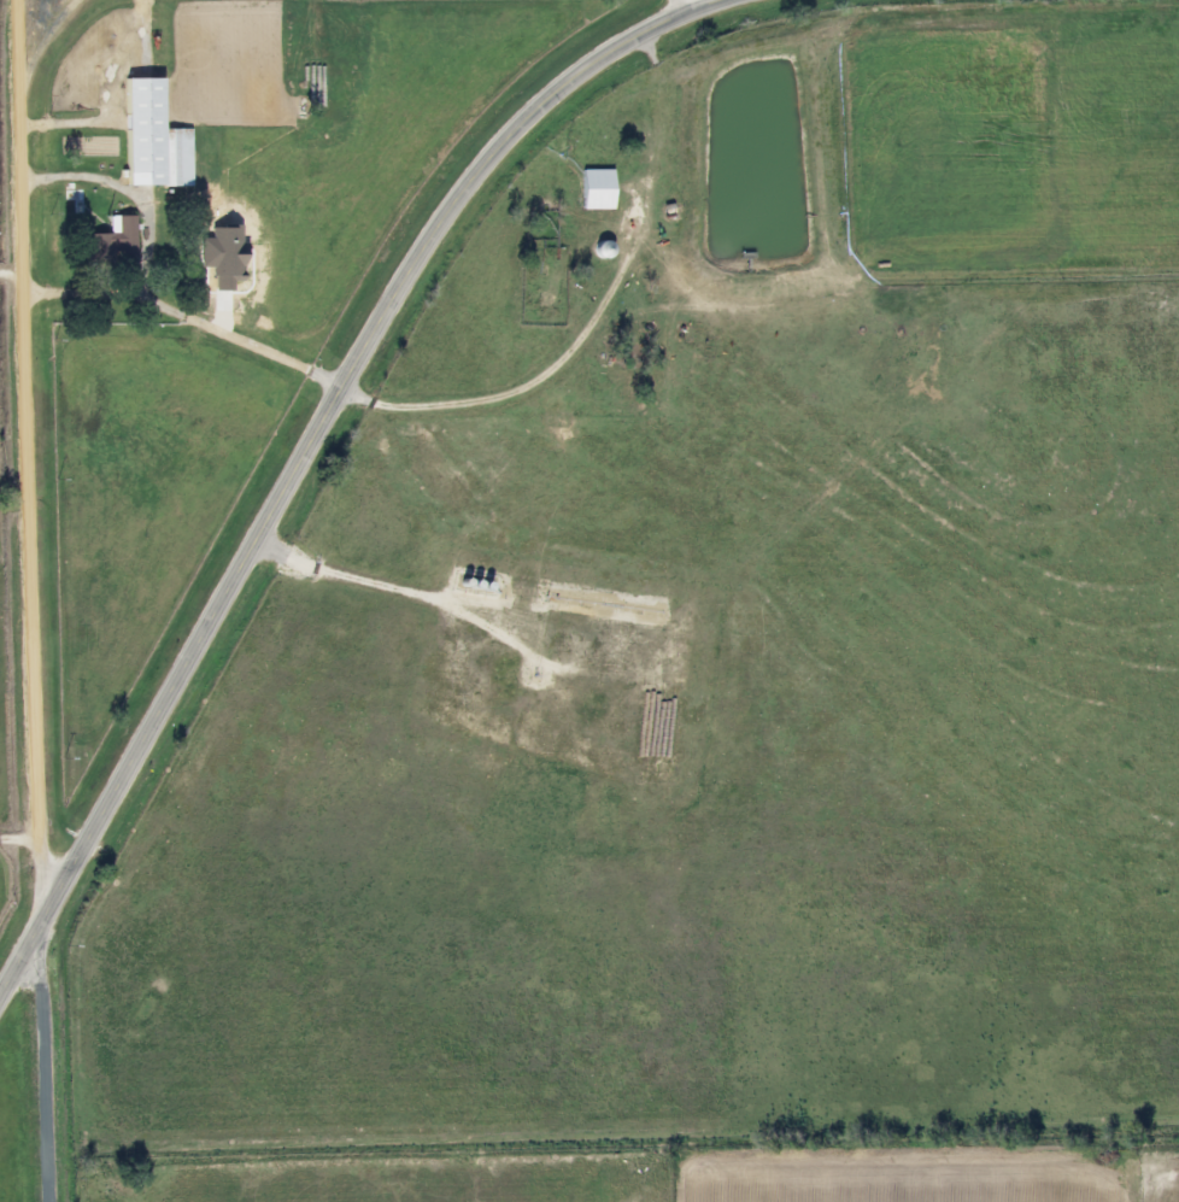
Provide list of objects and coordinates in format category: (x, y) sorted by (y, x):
road: (685, 0)
road: (37, 46)
building: (151, 139)
road: (95, 176)
building: (596, 188)
building: (108, 242)
road: (231, 338)
road: (20, 444)
road: (295, 448)
road: (16, 829)
road: (37, 1071)

